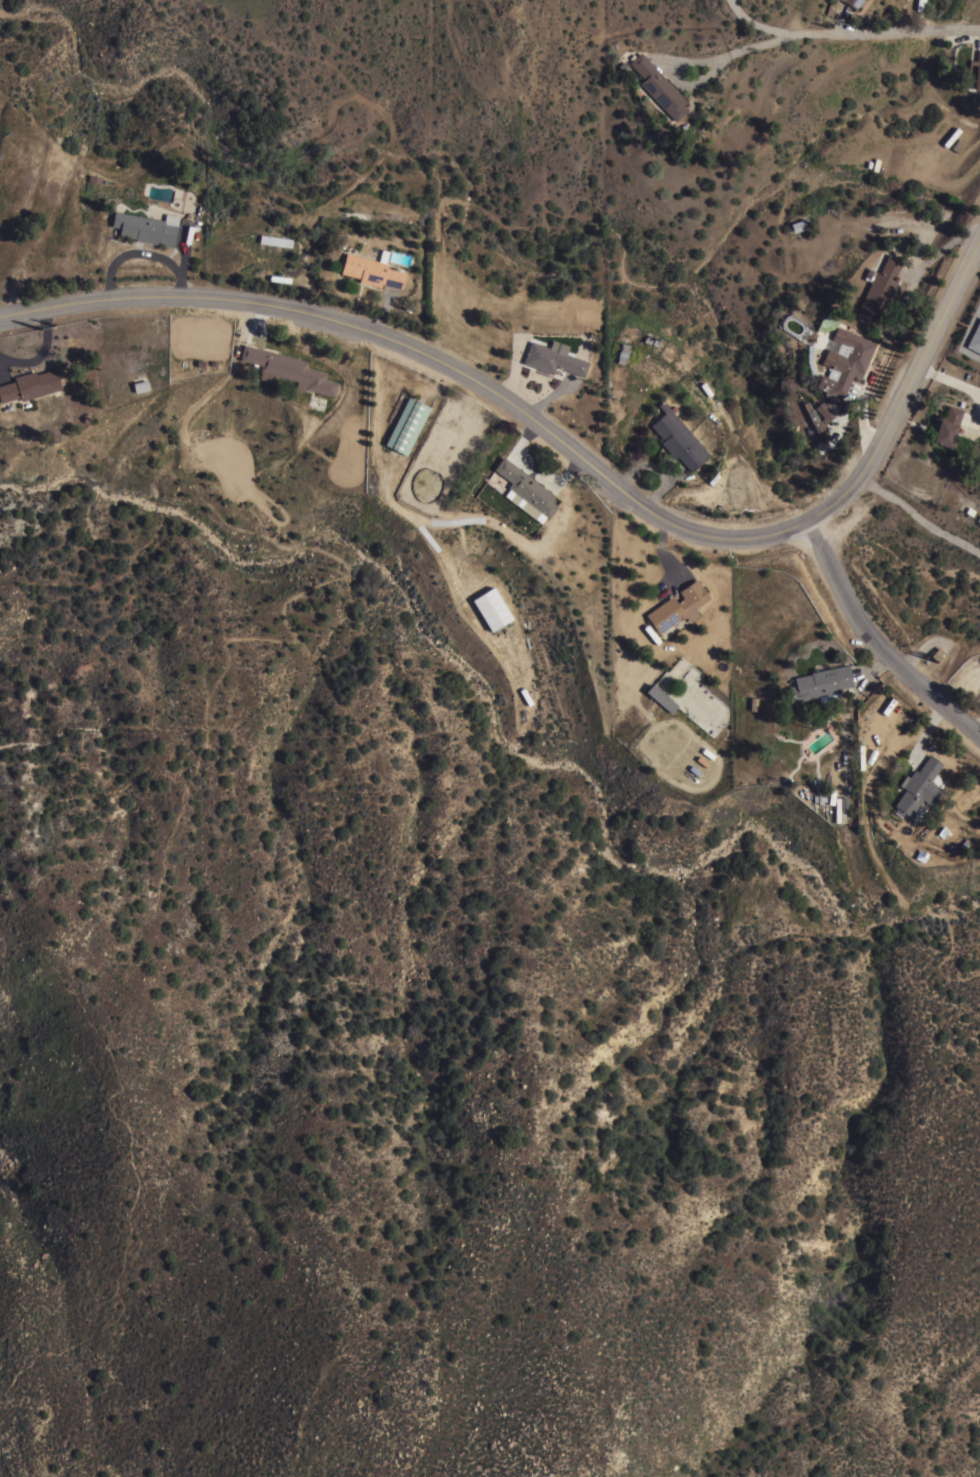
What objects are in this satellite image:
building: (851, 2)
road: (847, 35)
building: (974, 70)
building: (657, 86)
building: (798, 224)
building: (147, 227)
building: (275, 240)
building: (371, 271)
building: (880, 285)
building: (979, 299)
building: (975, 338)
building: (622, 352)
road: (431, 355)
building: (552, 359)
building: (842, 362)
building: (287, 370)
building: (614, 380)
building: (29, 385)
building: (140, 385)
building: (785, 387)
road: (908, 388)
building: (823, 411)
building: (812, 416)
building: (406, 425)
building: (947, 426)
building: (678, 438)
building: (526, 487)
road: (919, 518)
building: (678, 606)
building: (491, 608)
road: (875, 643)
building: (820, 684)
building: (661, 698)
building: (918, 785)

